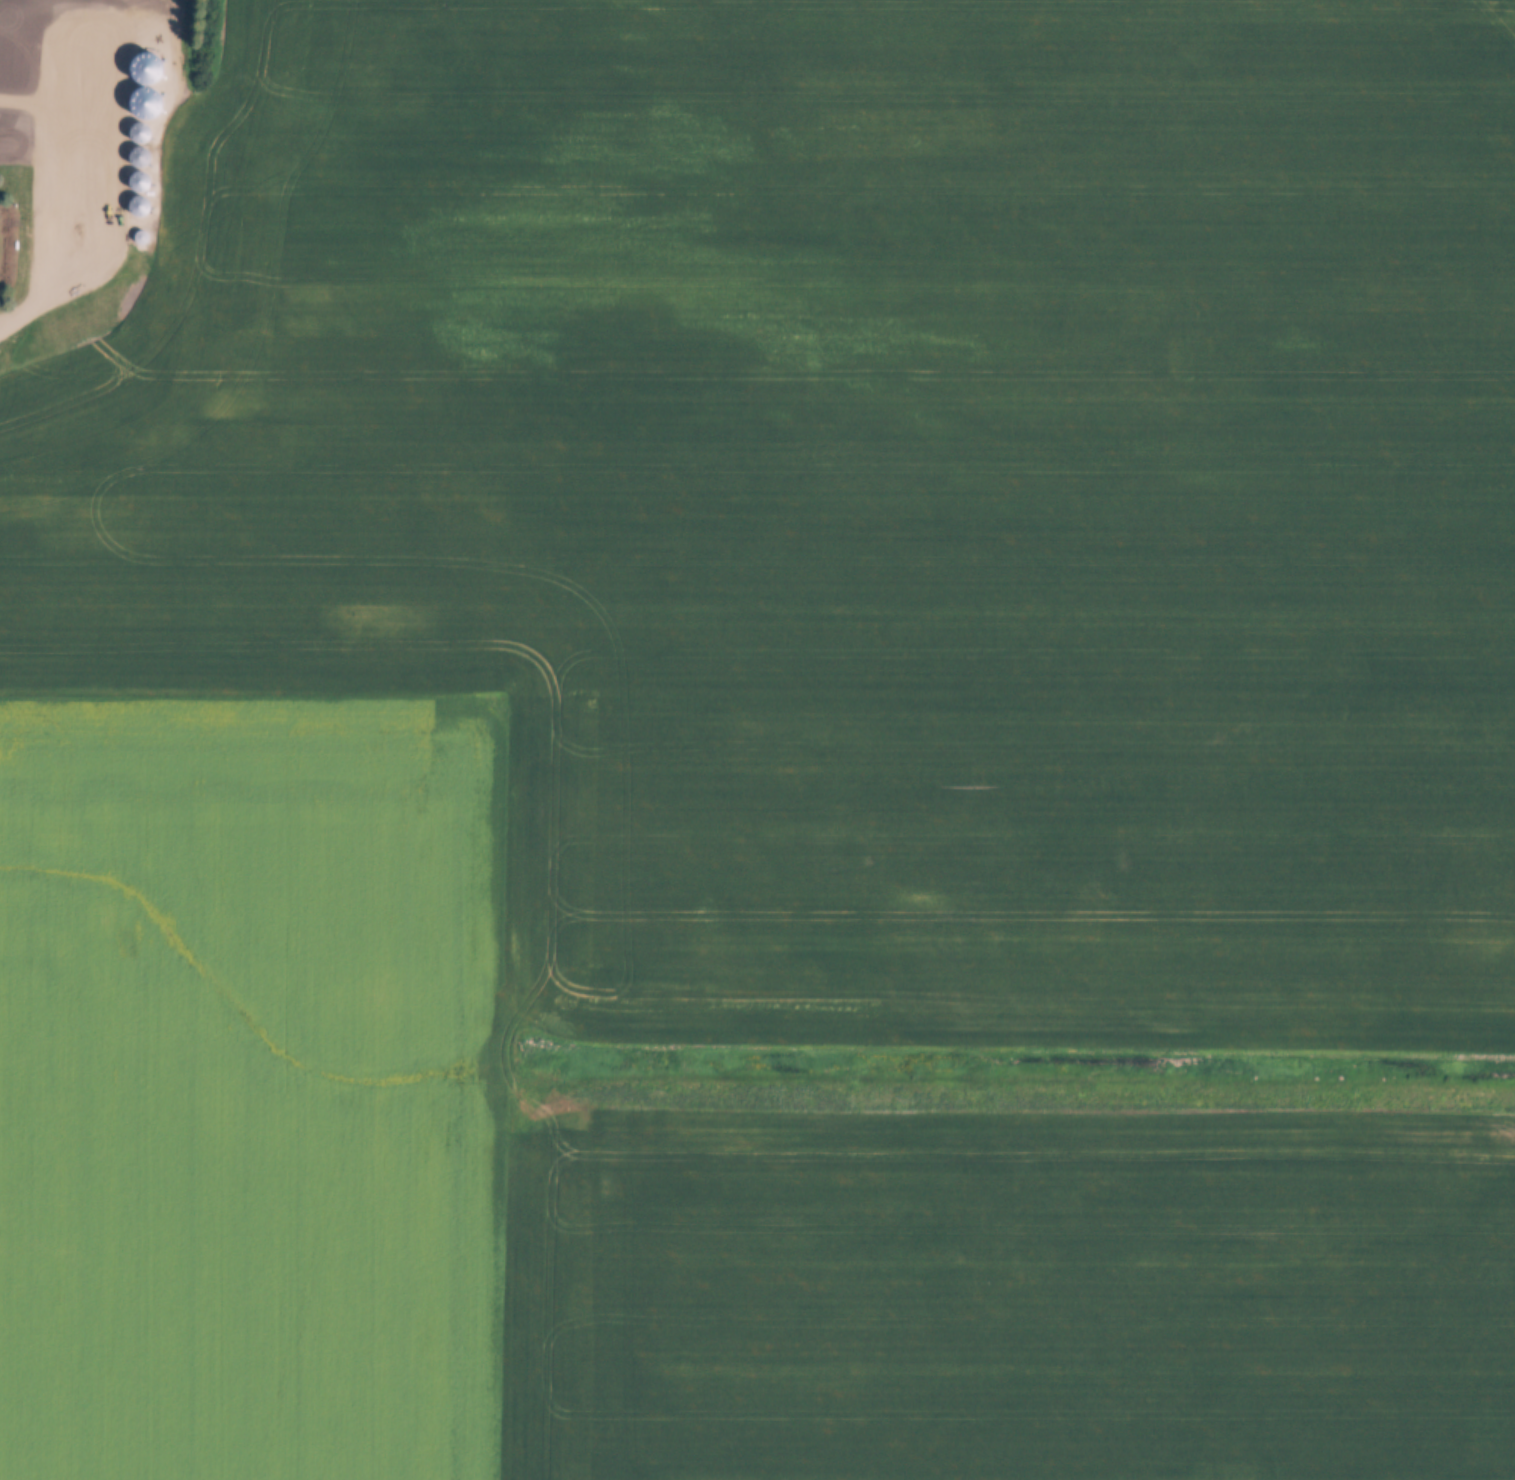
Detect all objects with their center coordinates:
building: (44, 117)
building: (139, 136)
road: (76, 254)

